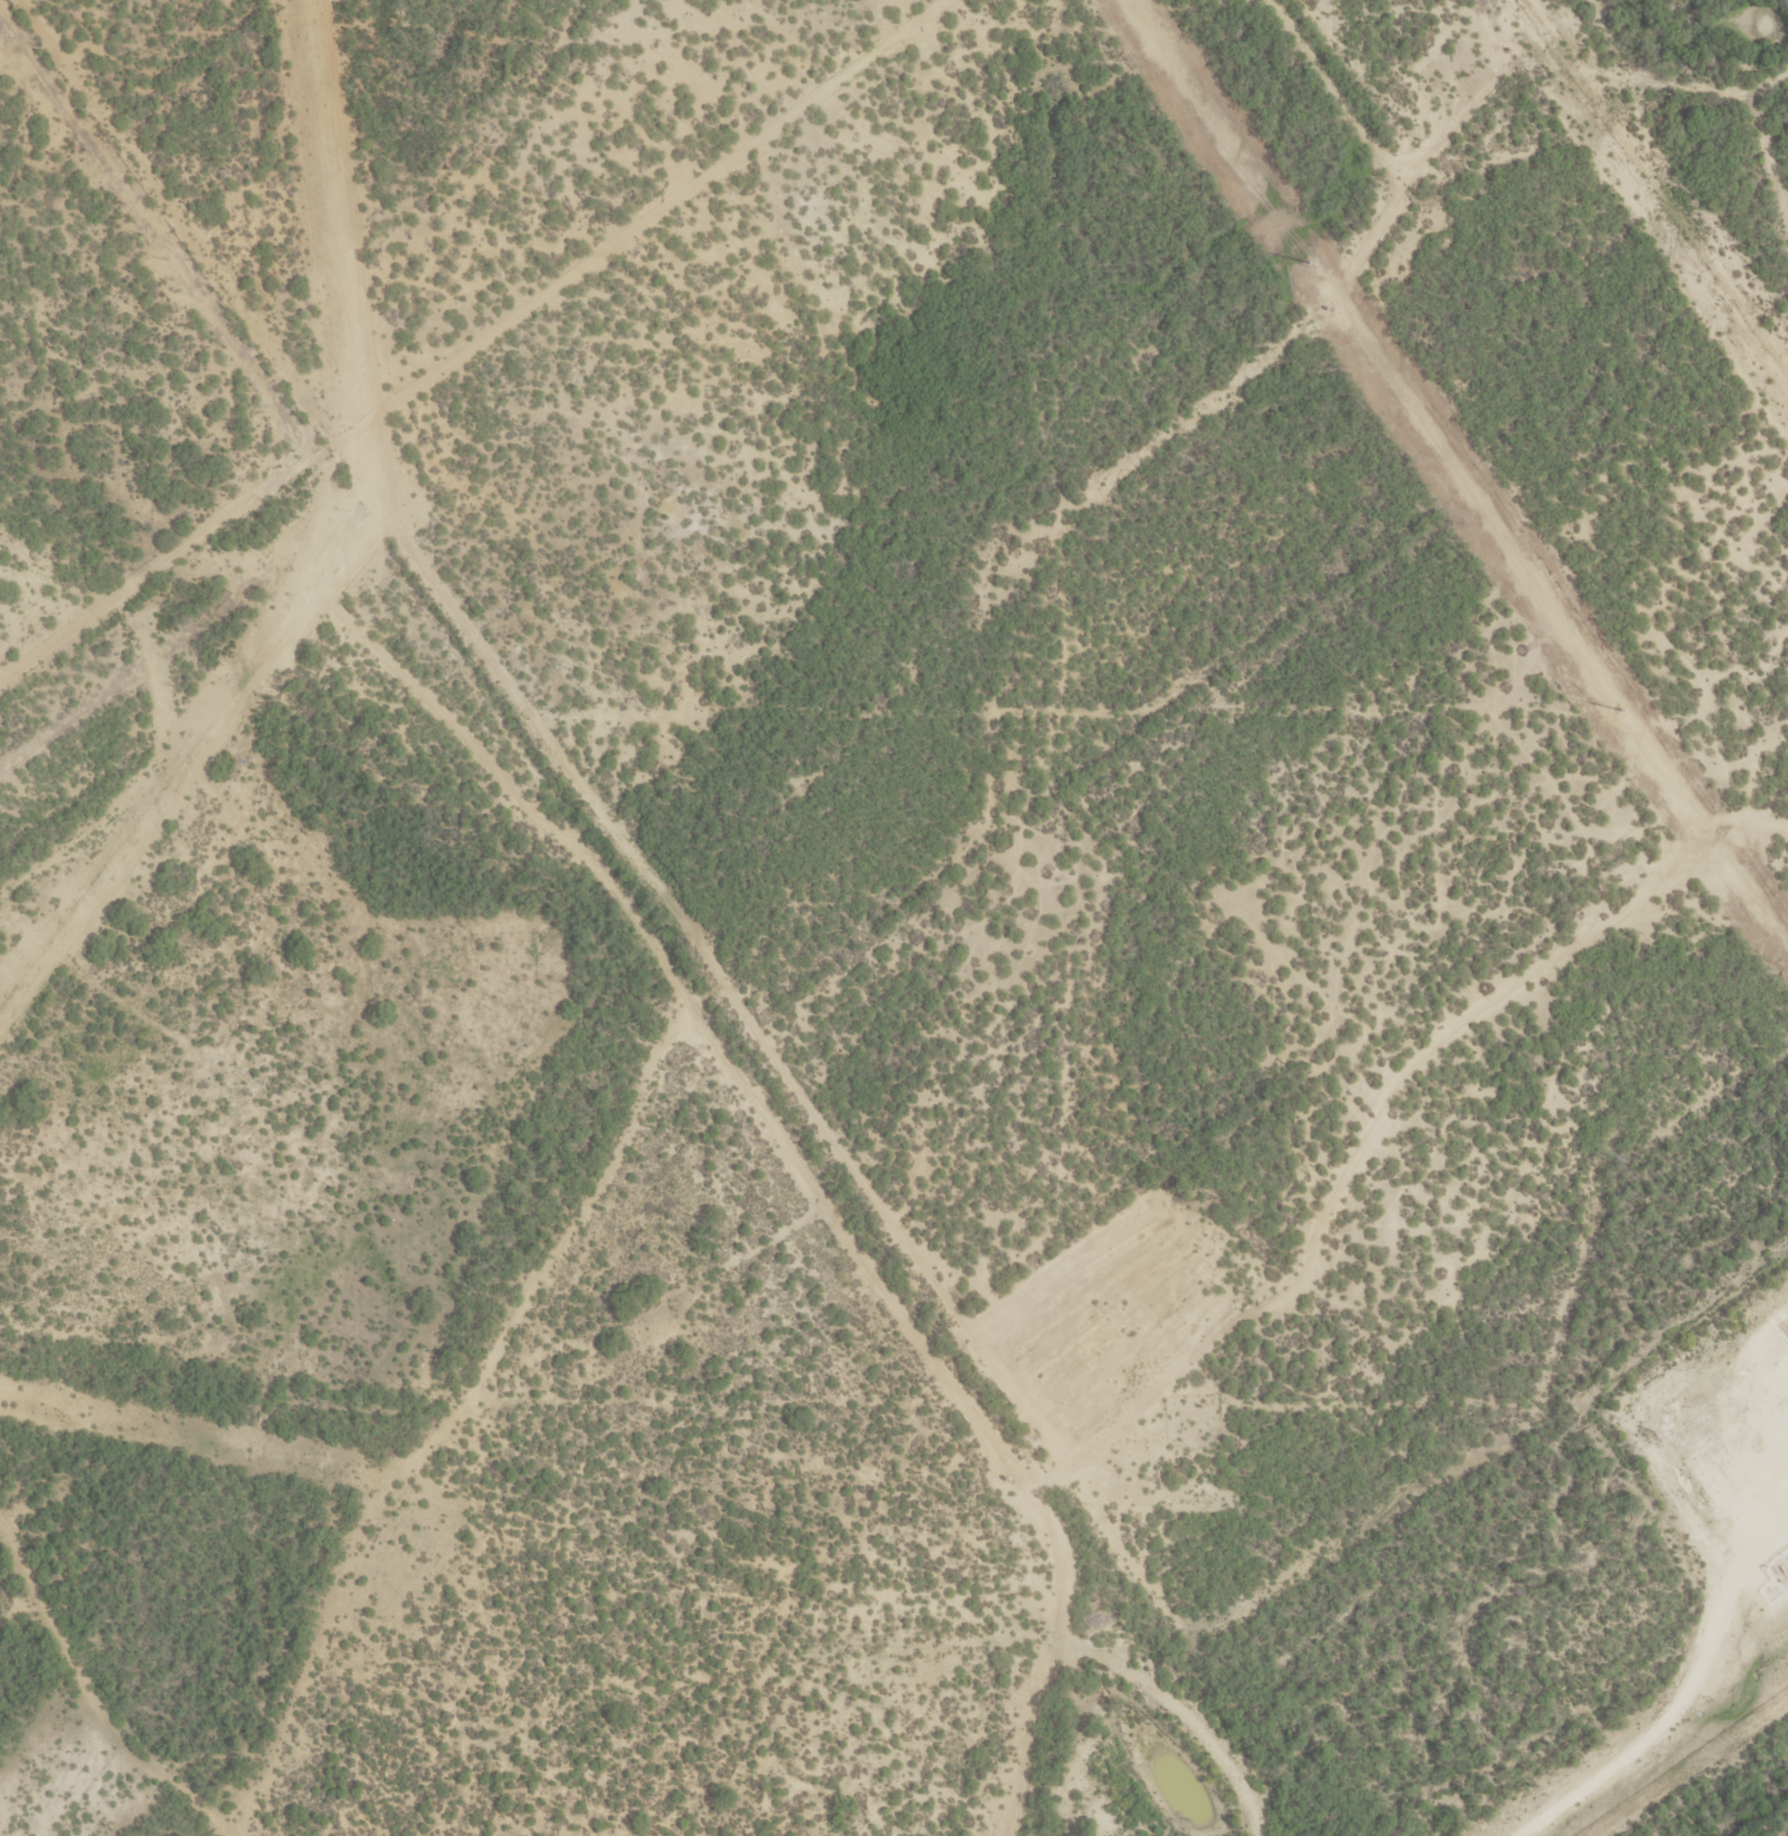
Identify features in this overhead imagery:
road: (1565, 168)
power tower: (1309, 262)
road: (289, 395)
road: (1424, 474)
power tower: (1622, 710)

